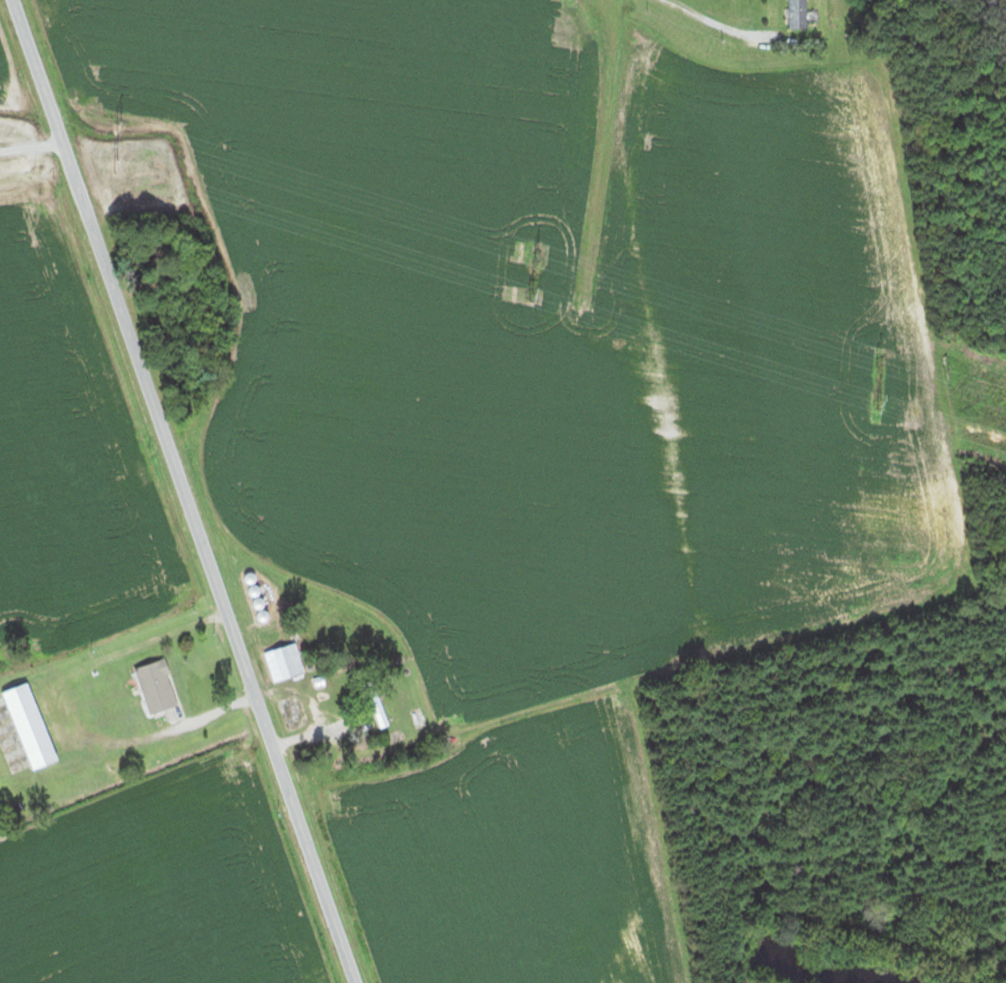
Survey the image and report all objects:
building: (790, 13)
road: (720, 26)
power tower: (133, 124)
road: (31, 144)
power tower: (535, 255)
power tower: (876, 360)
road: (183, 491)
building: (256, 593)
building: (285, 662)
building: (158, 686)
building: (297, 713)
building: (33, 725)

